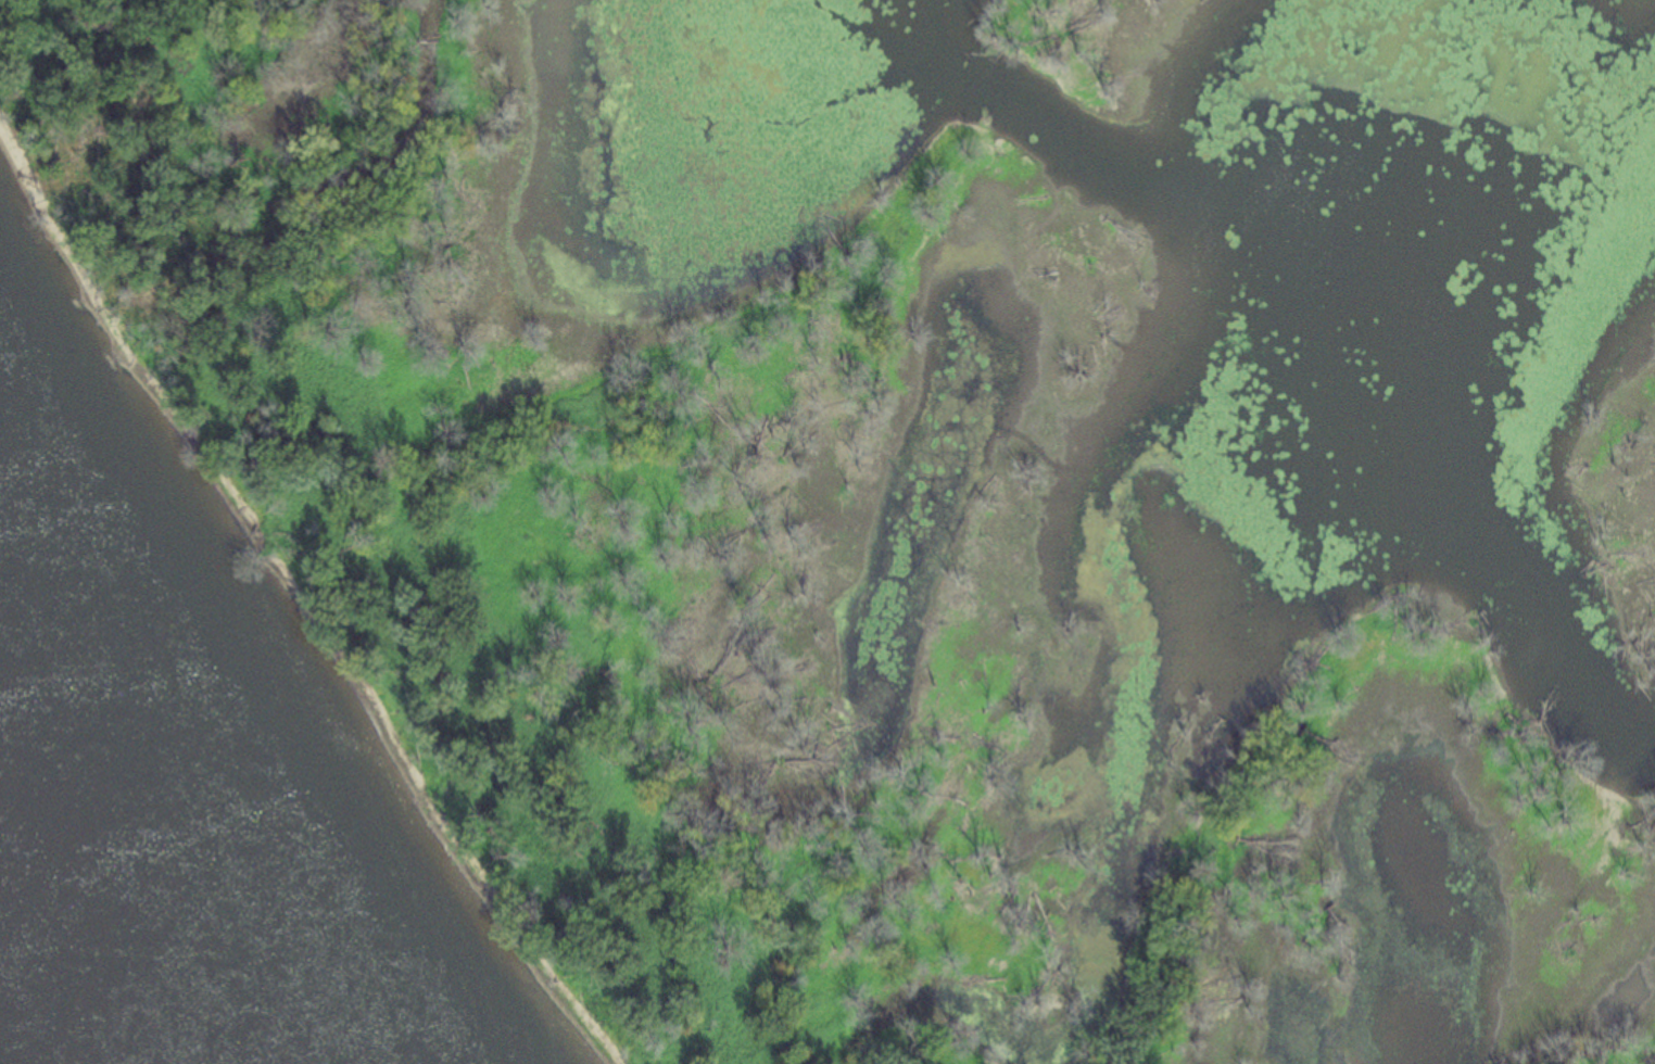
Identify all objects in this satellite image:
river: (62, 968)

